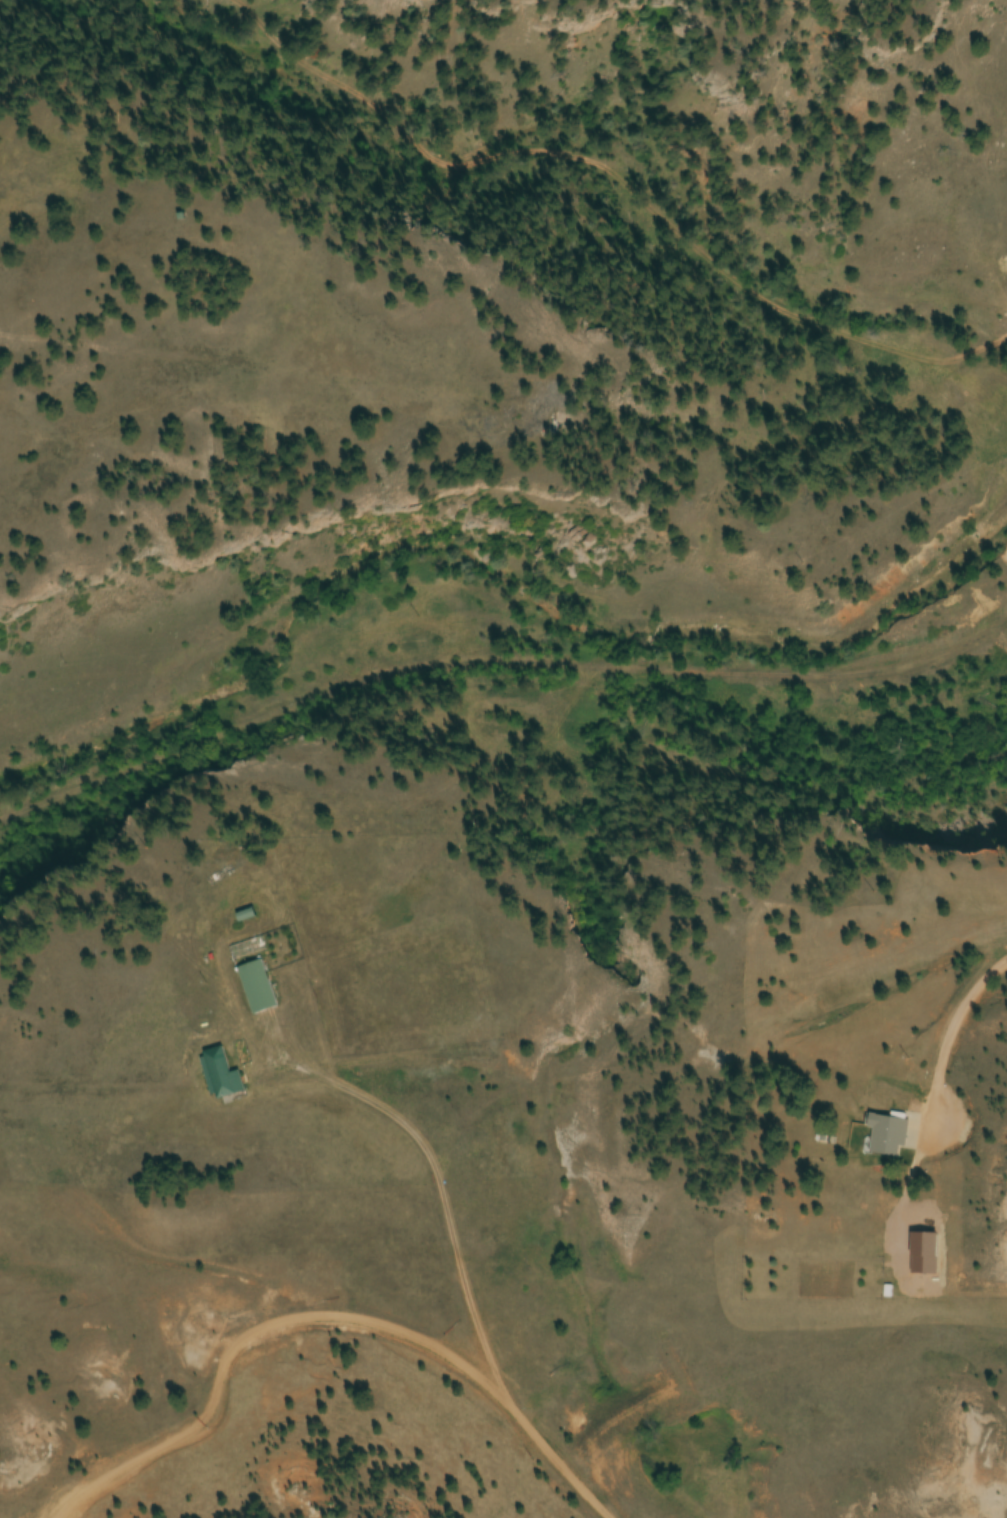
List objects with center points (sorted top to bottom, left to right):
building: (257, 989)
road: (975, 991)
building: (221, 1076)
building: (888, 1137)
road: (456, 1259)

